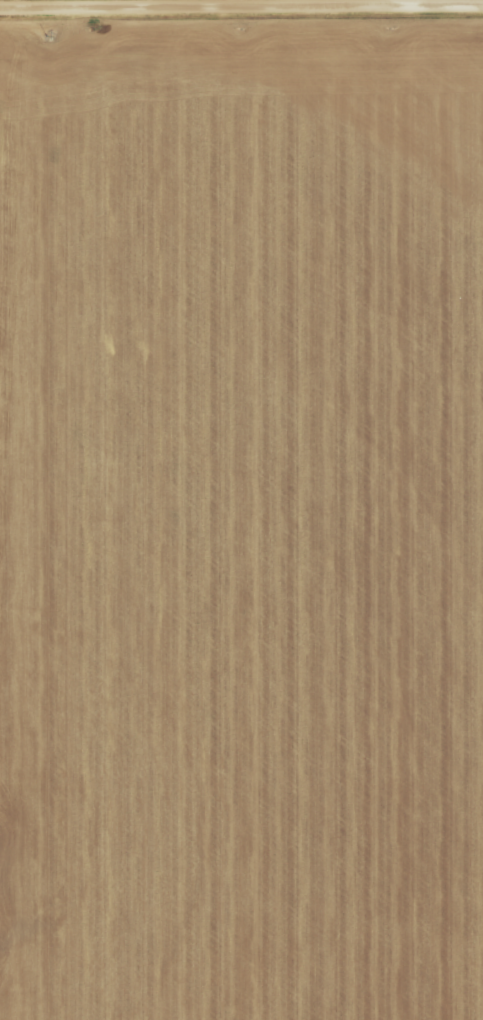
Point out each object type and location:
road: (241, 4)

